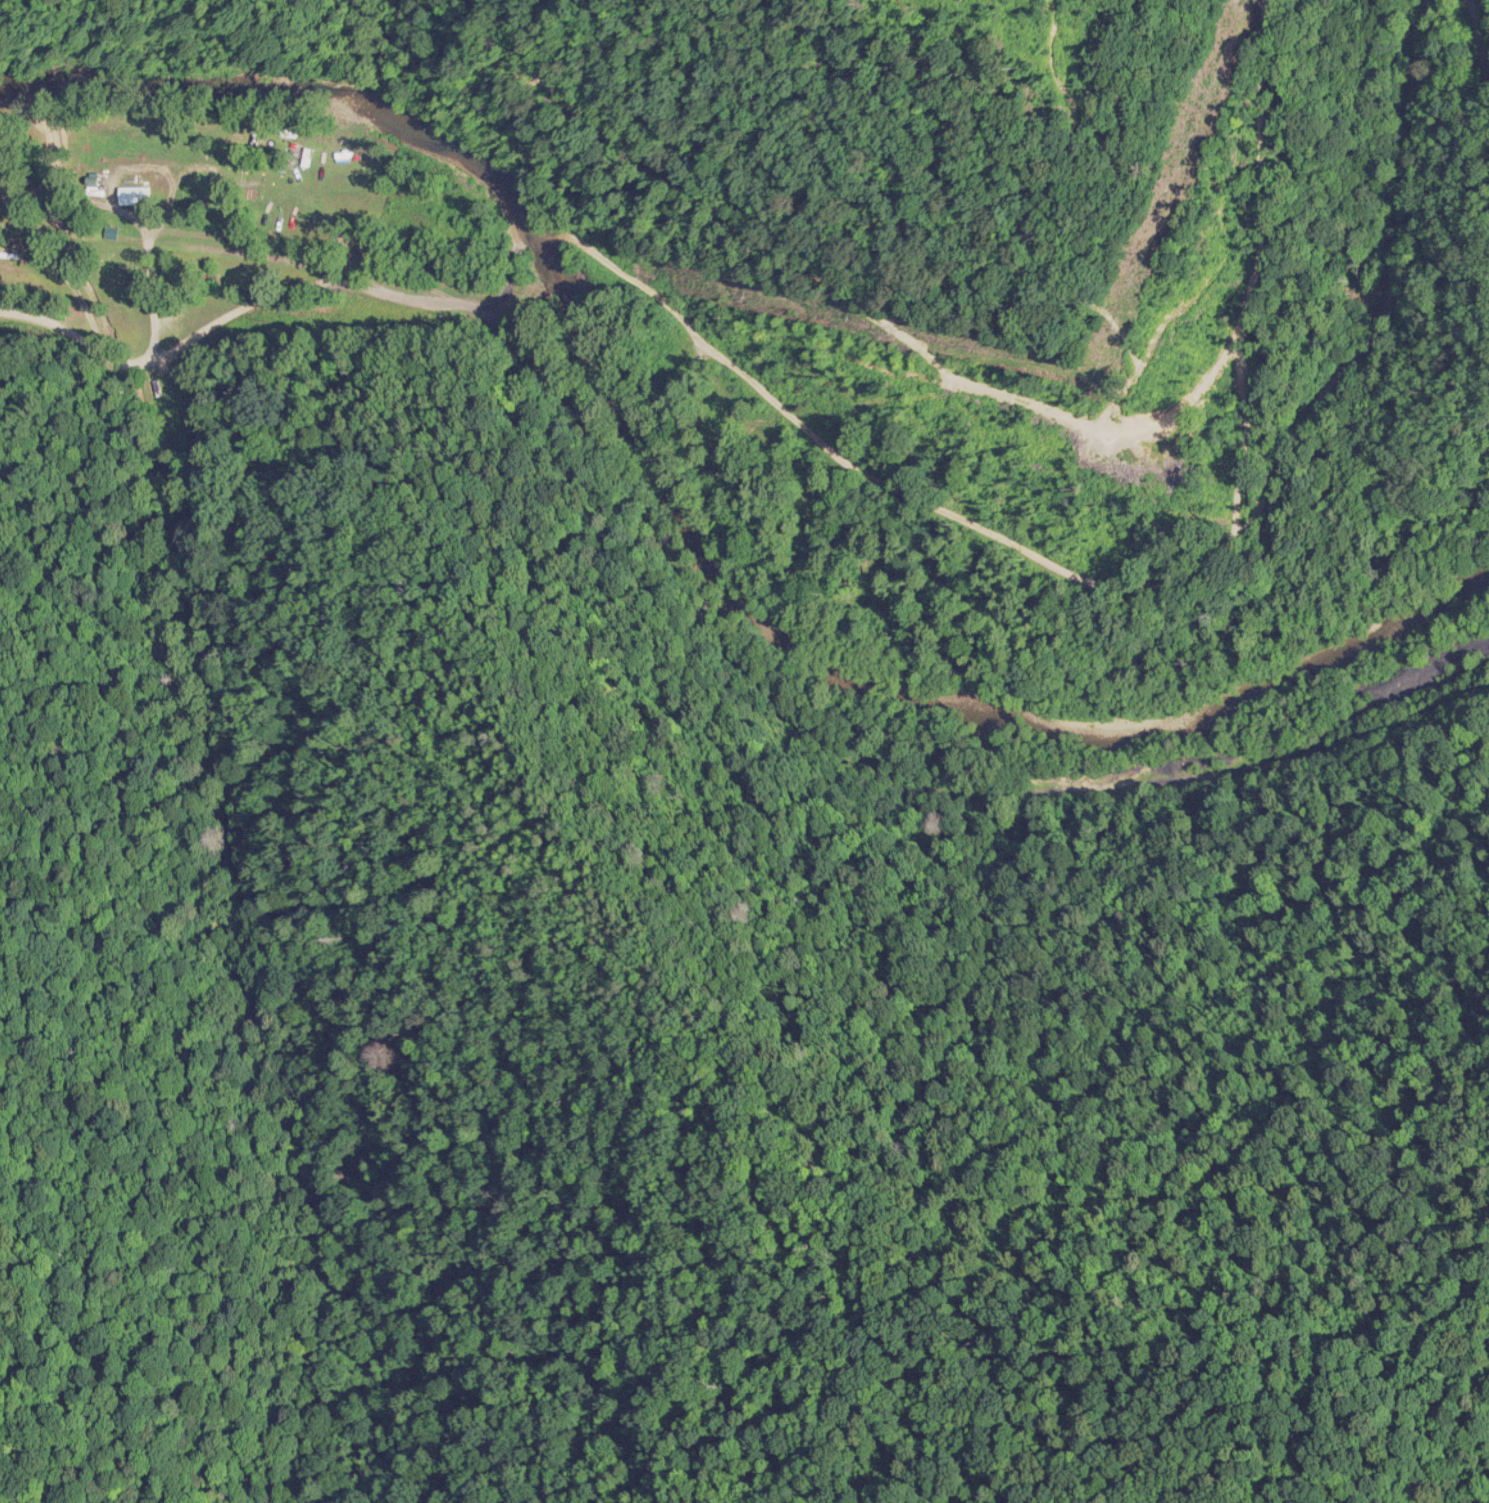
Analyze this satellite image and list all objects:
road: (835, 454)
road: (193, 520)
road: (1367, 570)

